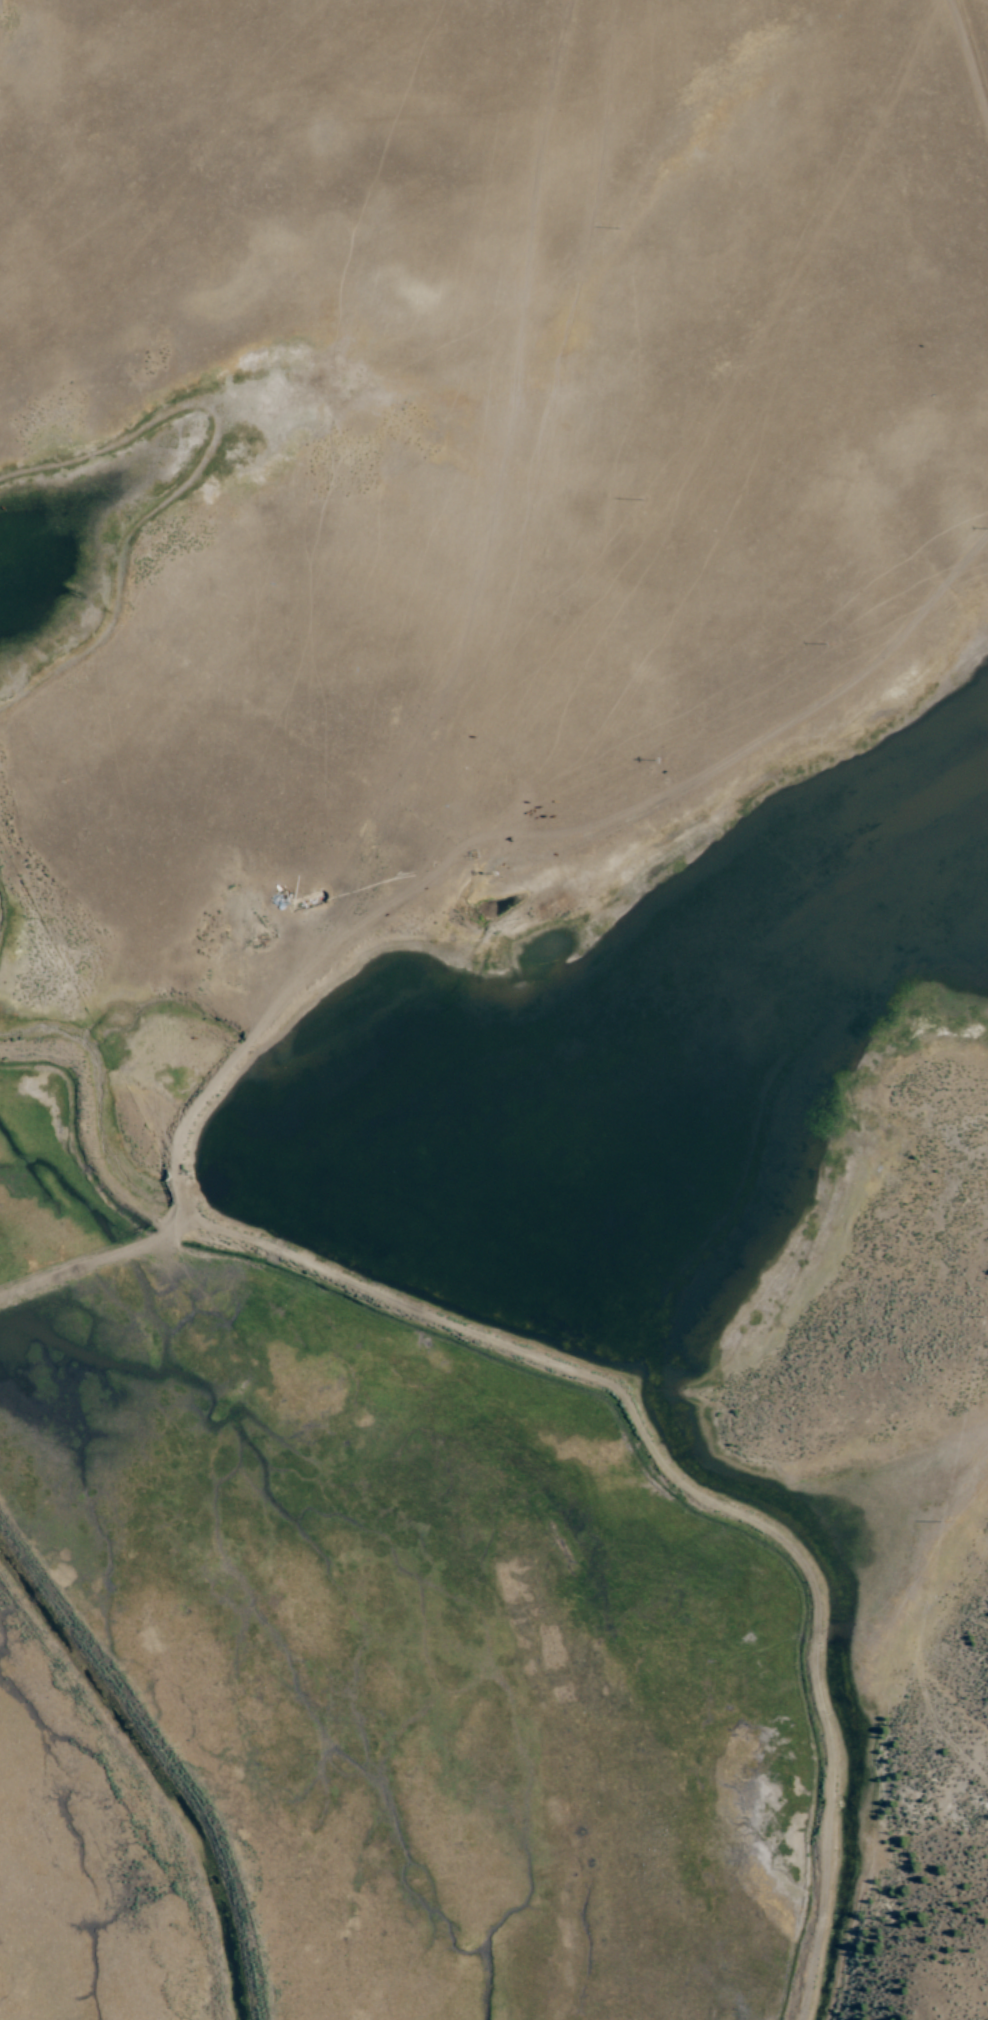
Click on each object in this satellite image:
road: (971, 44)

